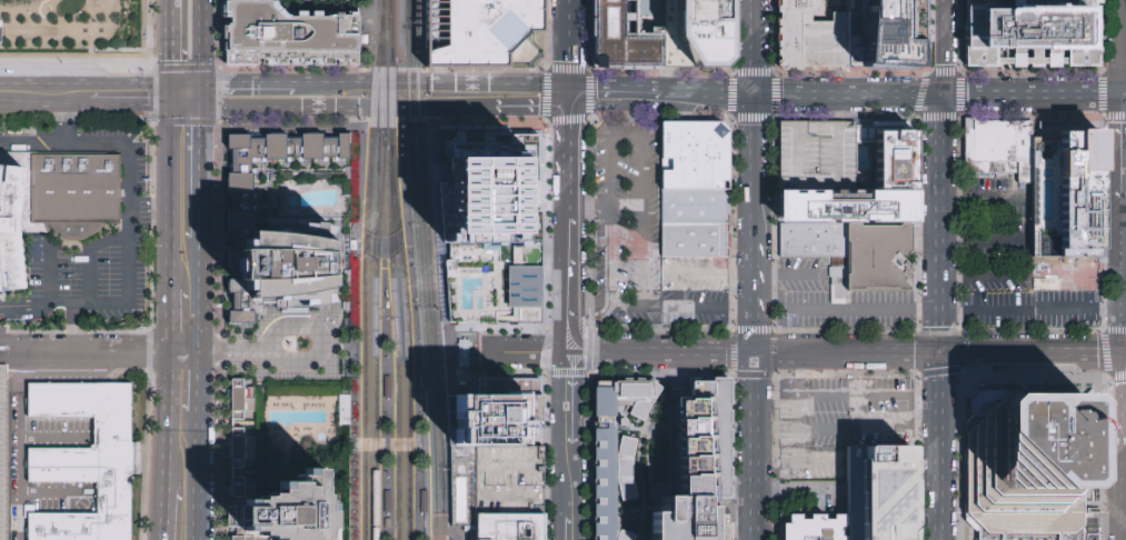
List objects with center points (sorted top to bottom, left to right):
building: (250, 0)
railway: (407, 12)
railway: (416, 12)
road: (40, 16)
railway: (381, 23)
road: (567, 24)
railway: (389, 26)
railway: (391, 26)
park: (73, 28)
building: (481, 30)
building: (626, 33)
building: (698, 33)
building: (810, 34)
building: (883, 36)
building: (289, 37)
building: (1035, 37)
road: (168, 42)
road: (200, 42)
road: (938, 48)
road: (1125, 48)
road: (109, 61)
railway: (407, 72)
railway: (417, 72)
road: (567, 73)
road: (434, 82)
road: (83, 84)
traffic signals: (168, 86)
road: (183, 86)
traffic signals: (200, 86)
road: (248, 86)
road: (612, 87)
railway: (391, 92)
road: (219, 93)
road: (1125, 94)
road: (1032, 96)
traffic signals: (1125, 96)
road: (168, 97)
road: (200, 97)
traffic signals: (938, 97)
traffic signals: (754, 98)
road: (799, 98)
traffic signals: (567, 99)
road: (754, 100)
road: (44, 106)
road: (520, 106)
road: (129, 108)
traffic signals: (168, 109)
traffic signals: (200, 109)
road: (320, 109)
road: (834, 109)
road: (631, 113)
road: (534, 120)
road: (588, 120)
railway: (357, 122)
railway: (399, 122)
road: (59, 124)
road: (565, 129)
road: (642, 140)
building: (998, 140)
road: (1125, 146)
building: (819, 156)
parking lot: (819, 156)
building: (885, 156)
building: (696, 157)
helipad: (894, 170)
building: (1009, 173)
road: (200, 174)
road: (818, 181)
road: (564, 183)
parking lot: (134, 191)
building: (236, 197)
road: (168, 198)
building: (53, 206)
road: (586, 206)
road: (1125, 206)
building: (696, 207)
building: (848, 208)
road: (127, 210)
road: (1028, 218)
building: (494, 220)
parking lot: (629, 223)
parking lot: (995, 223)
road: (939, 224)
building: (697, 240)
building: (816, 242)
road: (382, 249)
road: (560, 252)
road: (88, 254)
road: (151, 254)
road: (383, 254)
railway: (383, 259)
road: (441, 259)
building: (881, 259)
railway: (365, 269)
building: (287, 270)
parking lot: (1065, 272)
road: (785, 273)
road: (1083, 273)
road: (980, 276)
road: (755, 277)
parking lot: (996, 279)
road: (48, 284)
building: (838, 286)
parking lot: (695, 290)
road: (675, 291)
railway: (375, 293)
road: (591, 293)
road: (200, 296)
parking lot: (829, 301)
road: (14, 307)
road: (584, 307)
road: (838, 310)
parking lot: (1029, 310)
road: (1034, 310)
road: (169, 320)
road: (328, 321)
road: (557, 326)
road: (357, 329)
road: (415, 329)
railway: (396, 337)
railway: (406, 337)
railway: (425, 341)
railway: (434, 341)
road: (339, 347)
road: (1, 351)
toll booth: (2, 351)
road: (100, 351)
building: (464, 351)
road: (218, 352)
road: (1034, 352)
road: (666, 353)
traffic signals: (755, 353)
road: (848, 353)
traffic signals: (941, 353)
road: (519, 354)
road: (568, 354)
road: (307, 362)
road: (168, 367)
road: (588, 370)
road: (658, 373)
road: (731, 374)
road: (198, 383)
building: (387, 388)
railway: (424, 392)
road: (824, 396)
road: (381, 399)
road: (579, 399)
road: (167, 406)
road: (547, 408)
road: (909, 420)
road: (853, 428)
building: (487, 431)
parking lot: (836, 432)
road: (557, 436)
road: (53, 438)
road: (551, 440)
road: (387, 444)
road: (754, 446)
road: (941, 447)
building: (615, 450)
road: (641, 453)
building: (2, 456)
parking lot: (2, 456)
building: (240, 456)
road: (775, 457)
road: (454, 461)
building: (86, 462)
building: (697, 466)
building: (1029, 466)
parking lot: (18, 467)
road: (20, 469)
road: (196, 477)
building: (511, 480)
road: (165, 486)
road: (796, 489)
road: (49, 490)
road: (579, 491)
building: (880, 493)
road: (561, 497)
building: (422, 501)
building: (387, 502)
building: (291, 509)
building: (511, 526)
road: (557, 528)
building: (816, 528)
road: (450, 531)
railway: (450, 536)

